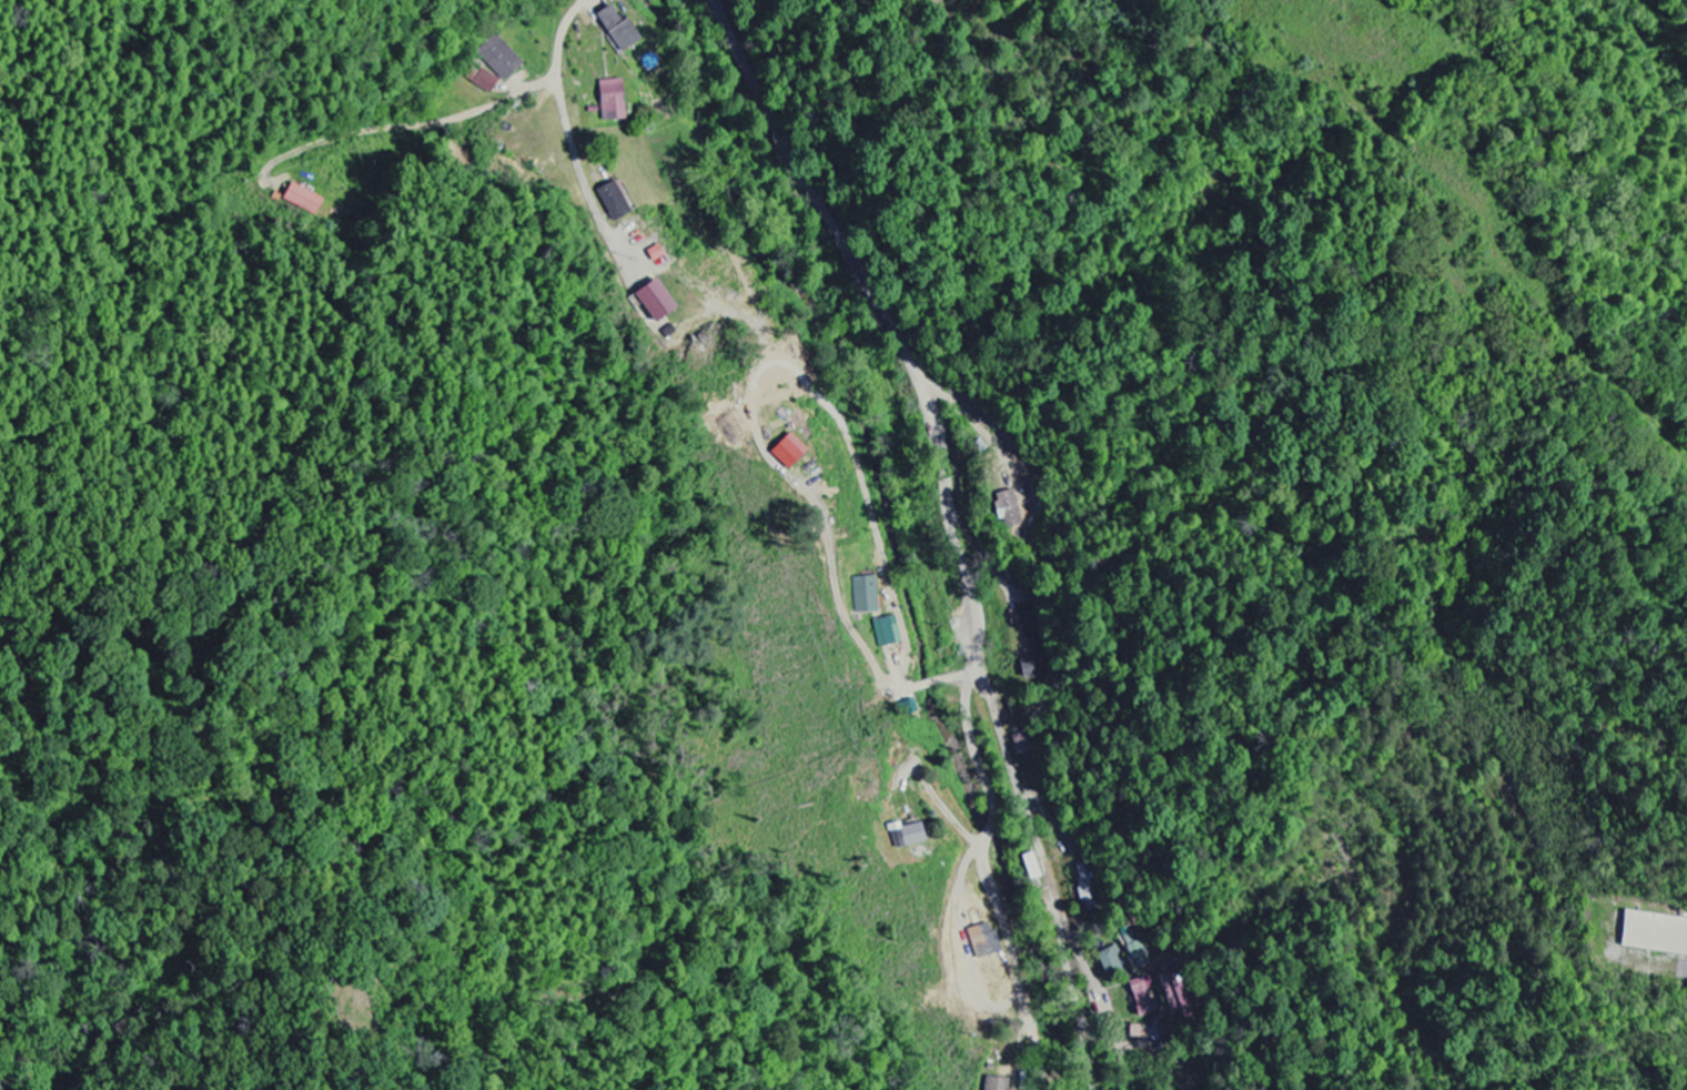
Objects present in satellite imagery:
building: (617, 30)
road: (562, 32)
building: (499, 58)
building: (486, 82)
building: (612, 101)
building: (304, 200)
building: (613, 202)
building: (655, 302)
building: (788, 452)
building: (1008, 509)
road: (952, 525)
building: (866, 595)
building: (887, 630)
building: (1032, 644)
building: (1022, 744)
road: (1033, 827)
building: (903, 836)
building: (1031, 866)
building: (1655, 933)
building: (983, 940)
building: (1134, 949)
building: (1110, 960)
building: (1142, 997)
building: (998, 1083)

